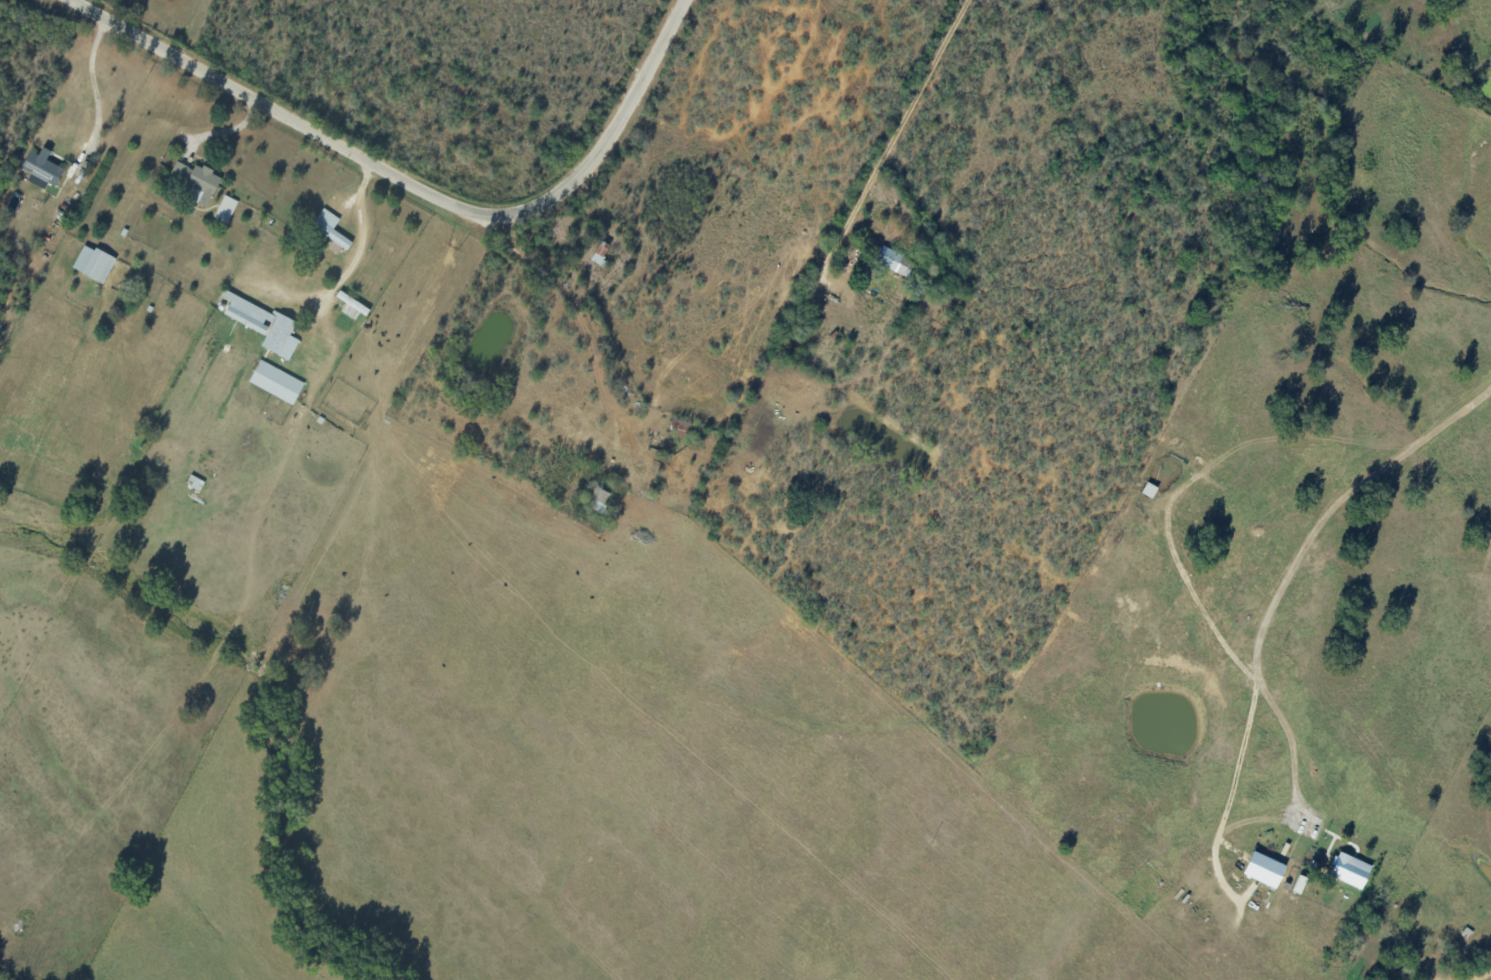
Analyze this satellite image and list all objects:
road: (93, 88)
road: (902, 136)
building: (41, 168)
building: (198, 179)
road: (417, 185)
building: (226, 208)
building: (330, 227)
building: (600, 252)
building: (893, 261)
building: (94, 263)
road: (578, 303)
building: (352, 306)
building: (264, 324)
building: (276, 382)
road: (1287, 592)
building: (1264, 869)
building: (1350, 870)
road: (1464, 975)

